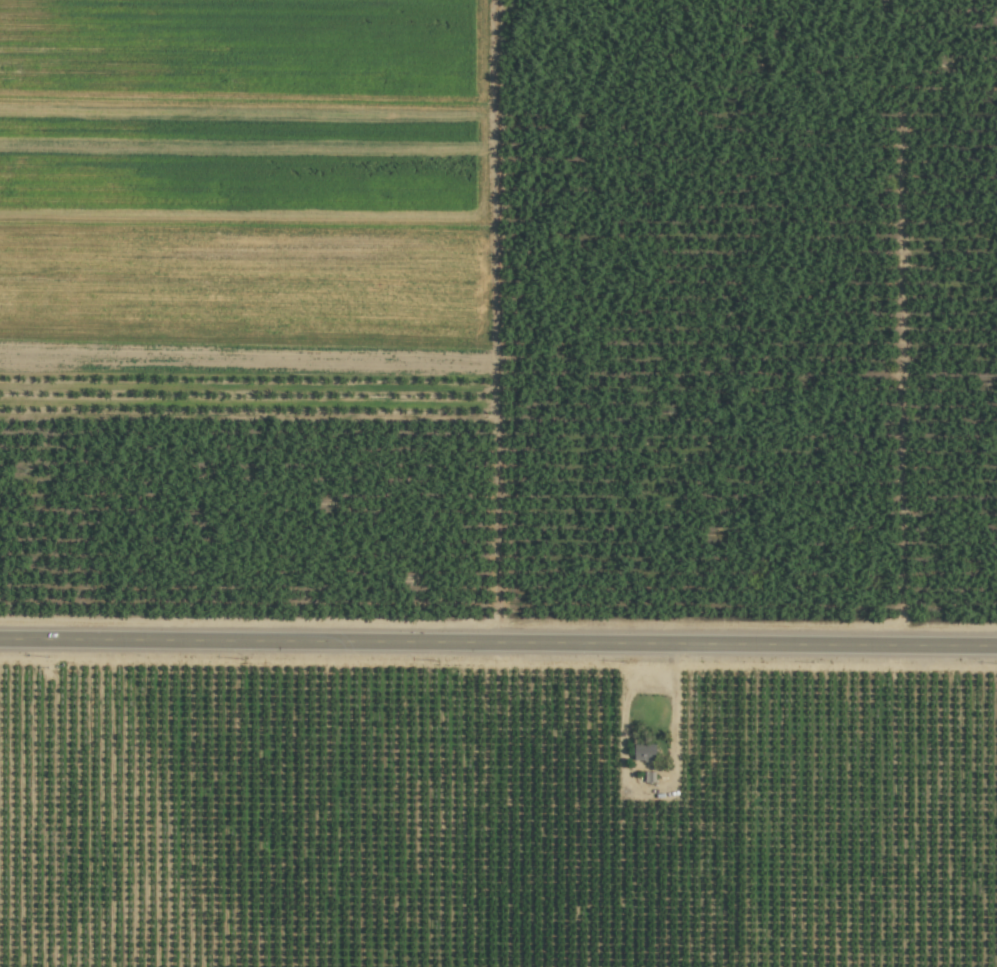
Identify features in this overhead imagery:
road: (498, 643)

